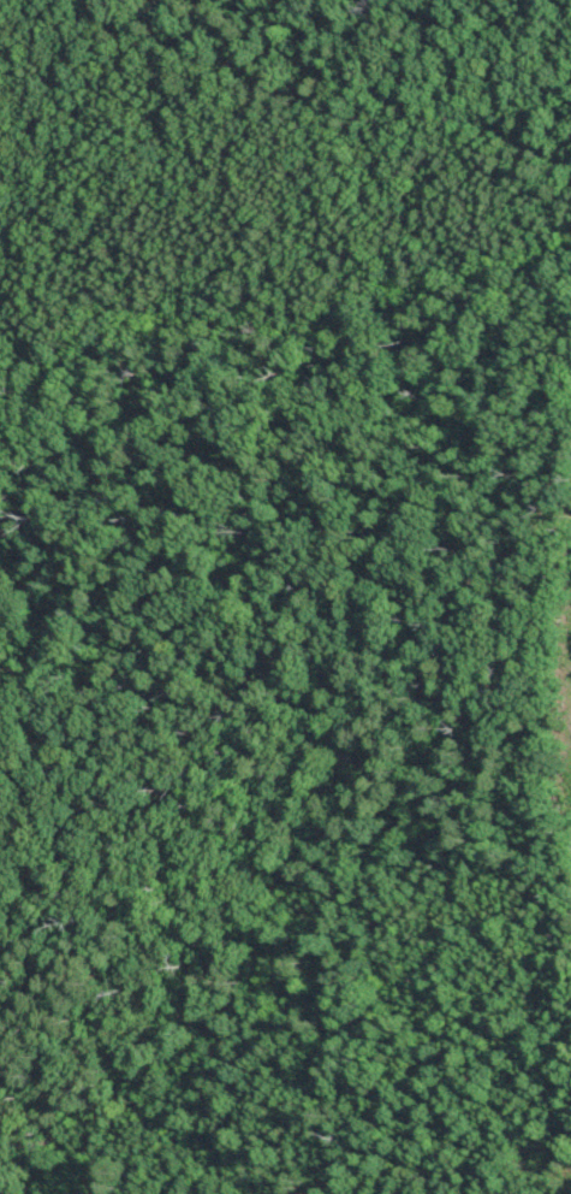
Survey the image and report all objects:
road: (284, 84)

